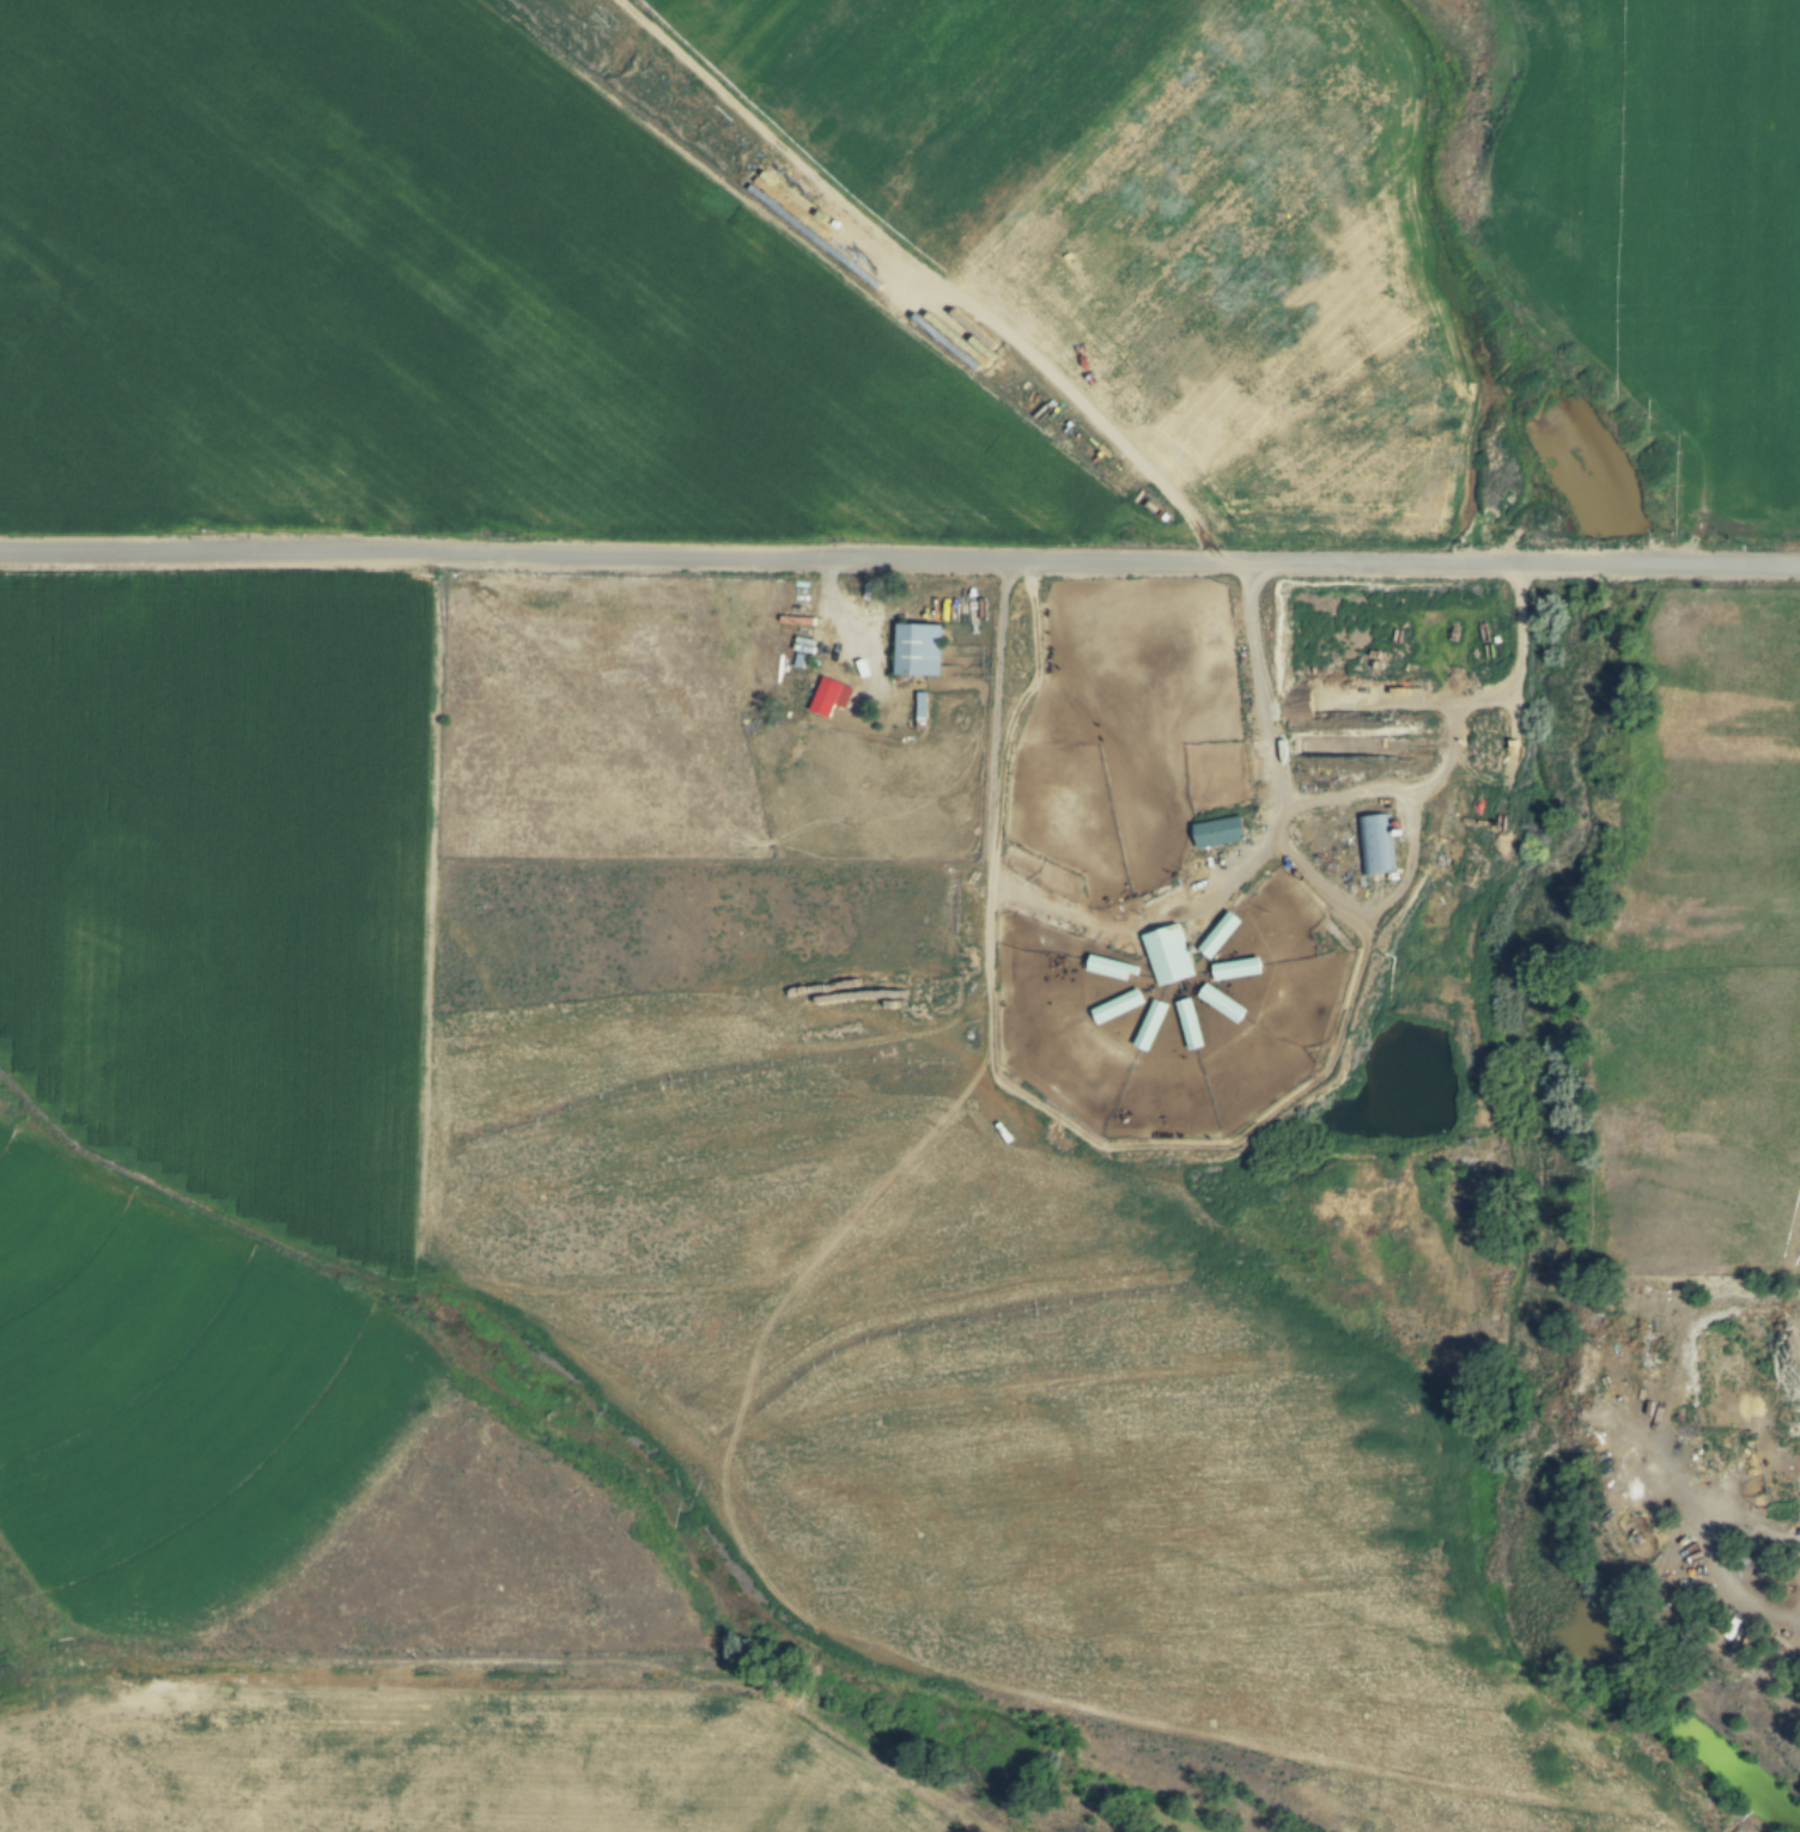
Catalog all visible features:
road: (900, 556)
road: (1011, 577)
road: (1526, 578)
road: (1472, 611)
road: (833, 617)
building: (918, 649)
building: (799, 661)
road: (1454, 671)
road: (1436, 687)
road: (1489, 694)
building: (831, 696)
road: (1374, 696)
road: (1016, 700)
building: (920, 707)
road: (1374, 744)
road: (1509, 756)
road: (1498, 804)
road: (1407, 812)
building: (1218, 832)
building: (1375, 844)
road: (1133, 923)
building: (1218, 936)
building: (1166, 955)
building: (1112, 968)
building: (1236, 969)
building: (1221, 1003)
road: (894, 1004)
building: (1117, 1005)
building: (1188, 1023)
building: (1150, 1025)
road: (1182, 1144)
road: (826, 1248)
road: (1635, 1404)
road: (568, 1660)
road: (470, 1728)

